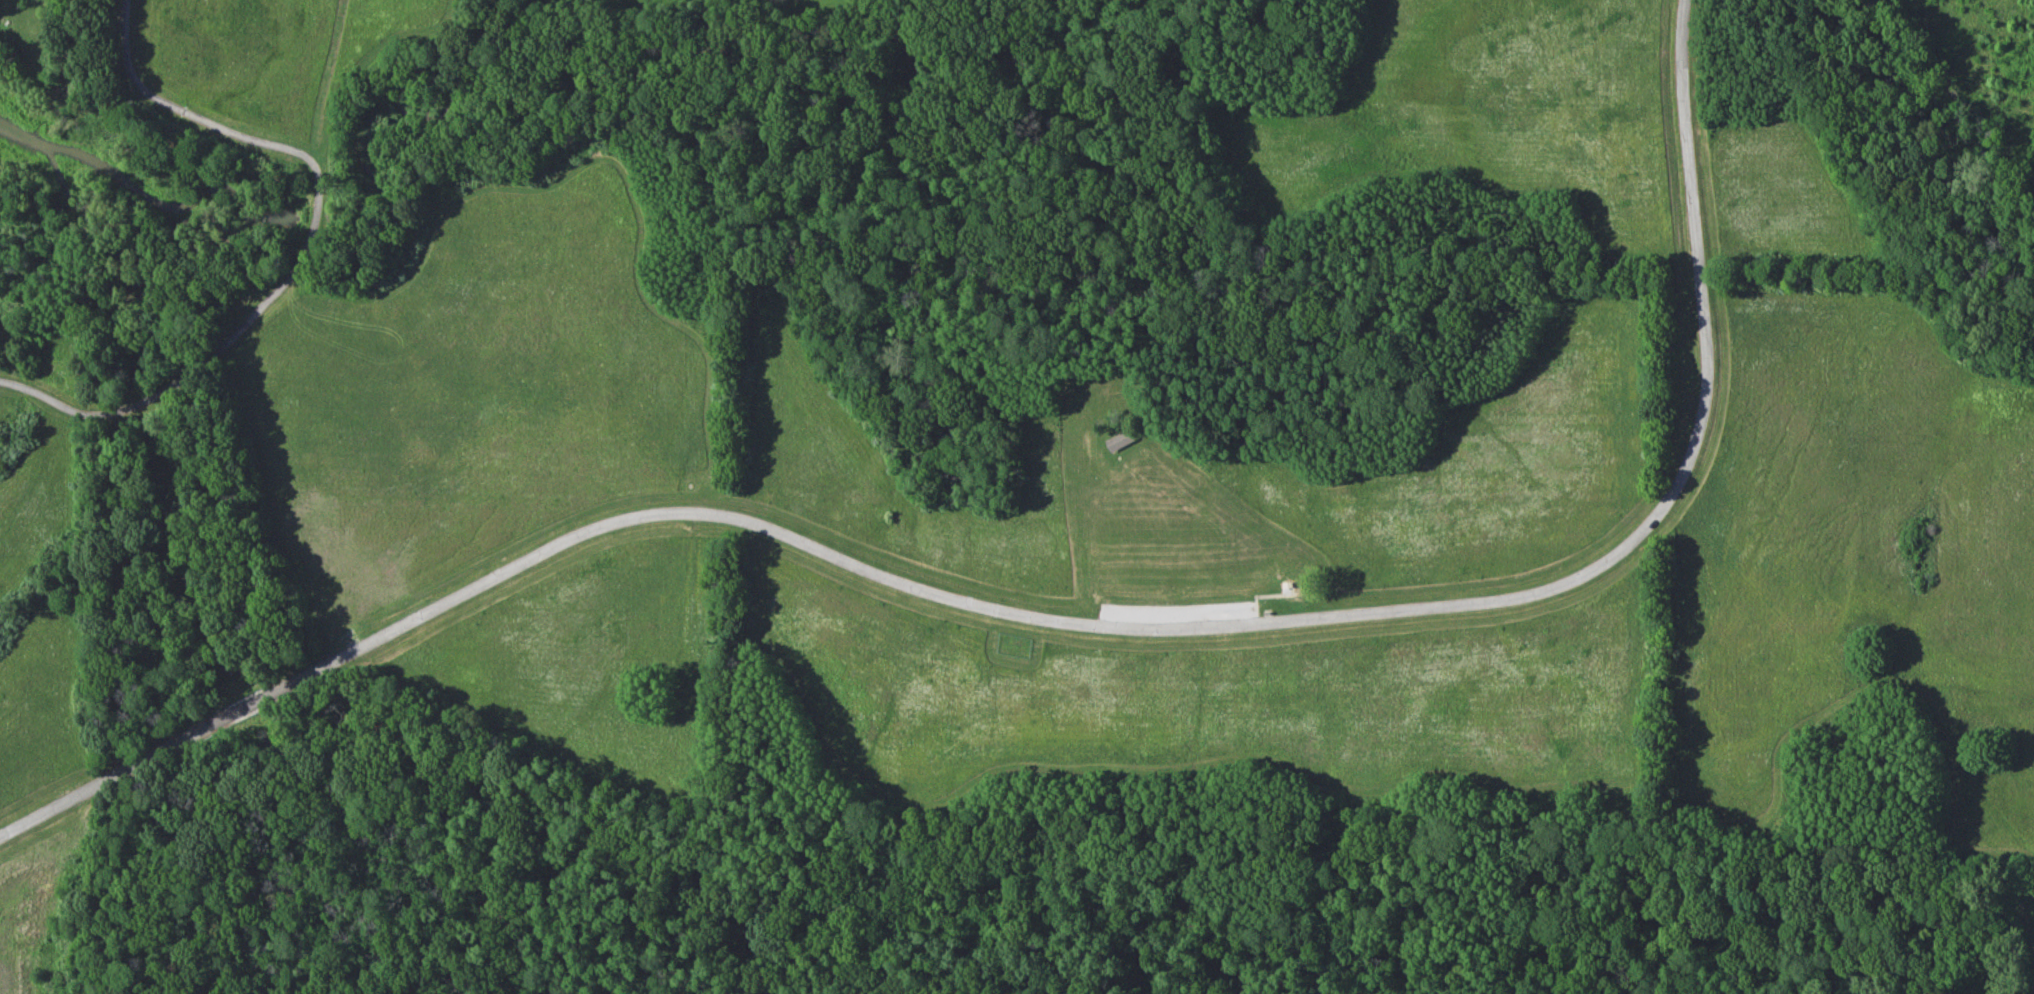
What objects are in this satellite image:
crop: (1493, 110)
crop: (1777, 197)
road: (295, 250)
building: (1119, 440)
park: (1017, 497)
road: (1061, 627)

